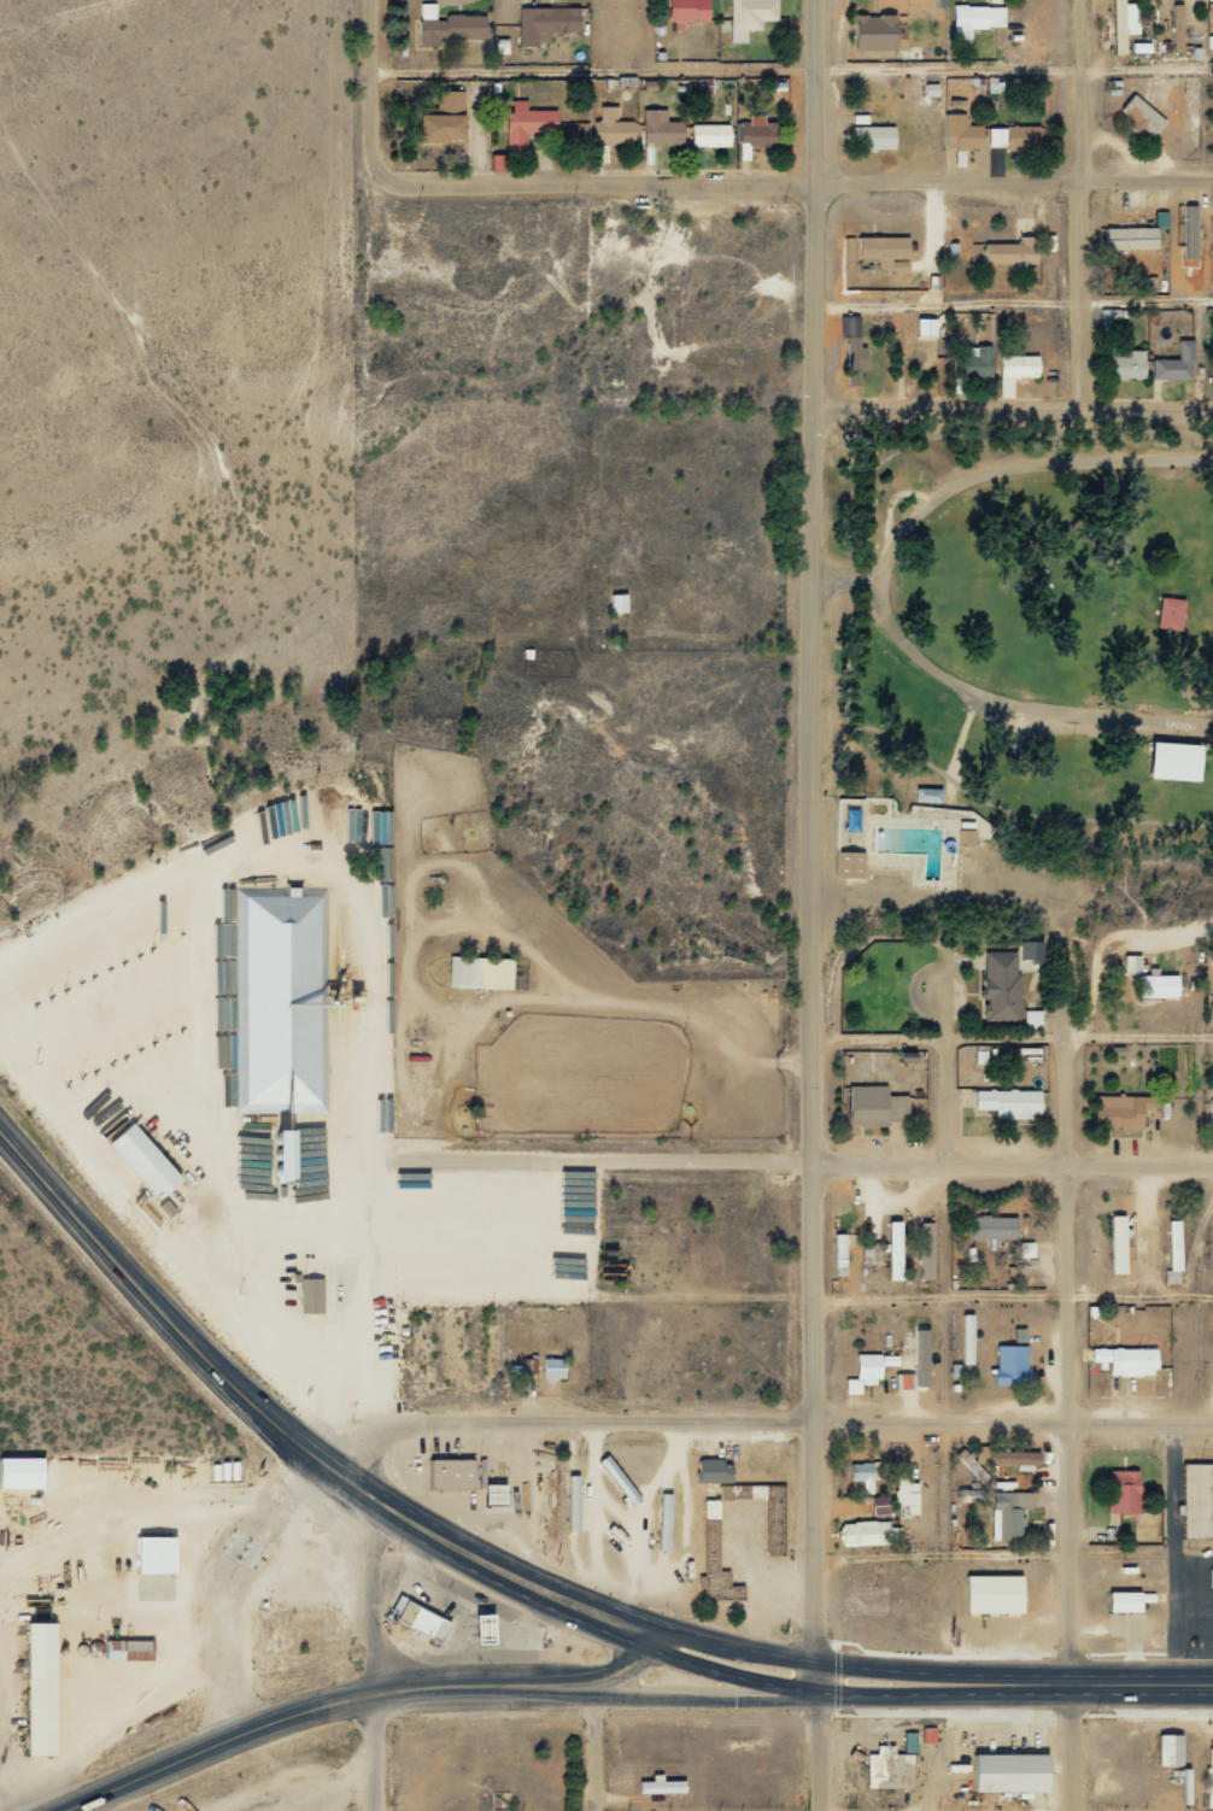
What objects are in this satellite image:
building: (690, 10)
building: (751, 16)
building: (975, 20)
building: (547, 23)
building: (449, 25)
building: (1129, 27)
building: (1178, 27)
building: (878, 31)
building: (995, 84)
road: (363, 93)
building: (1143, 116)
building: (446, 118)
building: (613, 128)
building: (661, 128)
building: (523, 131)
building: (763, 131)
building: (962, 133)
building: (711, 134)
building: (1015, 136)
building: (877, 137)
road: (795, 176)
road: (1073, 207)
building: (1193, 230)
building: (1133, 238)
building: (885, 248)
building: (1010, 252)
building: (851, 324)
building: (928, 326)
building: (855, 358)
building: (974, 361)
building: (1177, 363)
building: (1129, 364)
building: (1016, 370)
road: (1014, 414)
road: (885, 586)
building: (620, 602)
building: (1173, 613)
park: (1021, 668)
building: (1178, 760)
road: (818, 830)
building: (967, 837)
building: (879, 861)
building: (850, 863)
building: (1032, 950)
building: (1212, 956)
building: (1132, 963)
building: (482, 972)
building: (1002, 984)
building: (1160, 985)
building: (285, 1000)
road: (940, 1076)
building: (1012, 1102)
building: (877, 1104)
building: (1123, 1110)
building: (1212, 1114)
building: (287, 1154)
road: (1009, 1157)
building: (146, 1161)
road: (594, 1165)
building: (995, 1226)
building: (1120, 1242)
building: (1176, 1246)
building: (896, 1248)
building: (928, 1249)
building: (842, 1253)
building: (313, 1294)
road: (168, 1315)
building: (924, 1355)
building: (1129, 1359)
road: (1071, 1361)
building: (1013, 1362)
building: (529, 1364)
building: (556, 1367)
building: (867, 1371)
road: (1013, 1413)
road: (572, 1418)
building: (1016, 1457)
building: (716, 1470)
building: (23, 1471)
building: (455, 1472)
building: (863, 1475)
building: (1125, 1489)
building: (907, 1494)
building: (973, 1494)
building: (1199, 1499)
building: (881, 1504)
building: (1010, 1512)
building: (866, 1532)
building: (688, 1545)
building: (158, 1553)
building: (716, 1557)
road: (510, 1560)
building: (996, 1593)
building: (1130, 1600)
road: (574, 1611)
building: (423, 1619)
building: (481, 1630)
gas station: (481, 1630)
road: (743, 1643)
road: (369, 1645)
road: (93, 1649)
building: (130, 1649)
road: (934, 1670)
road: (609, 1671)
road: (1133, 1681)
building: (43, 1688)
road: (562, 1688)
road: (936, 1690)
road: (705, 1694)
road: (286, 1712)
road: (816, 1734)
building: (930, 1734)
building: (912, 1741)
building: (1172, 1748)
road: (594, 1751)
building: (891, 1768)
building: (1012, 1771)
building: (1211, 1776)
building: (663, 1784)

